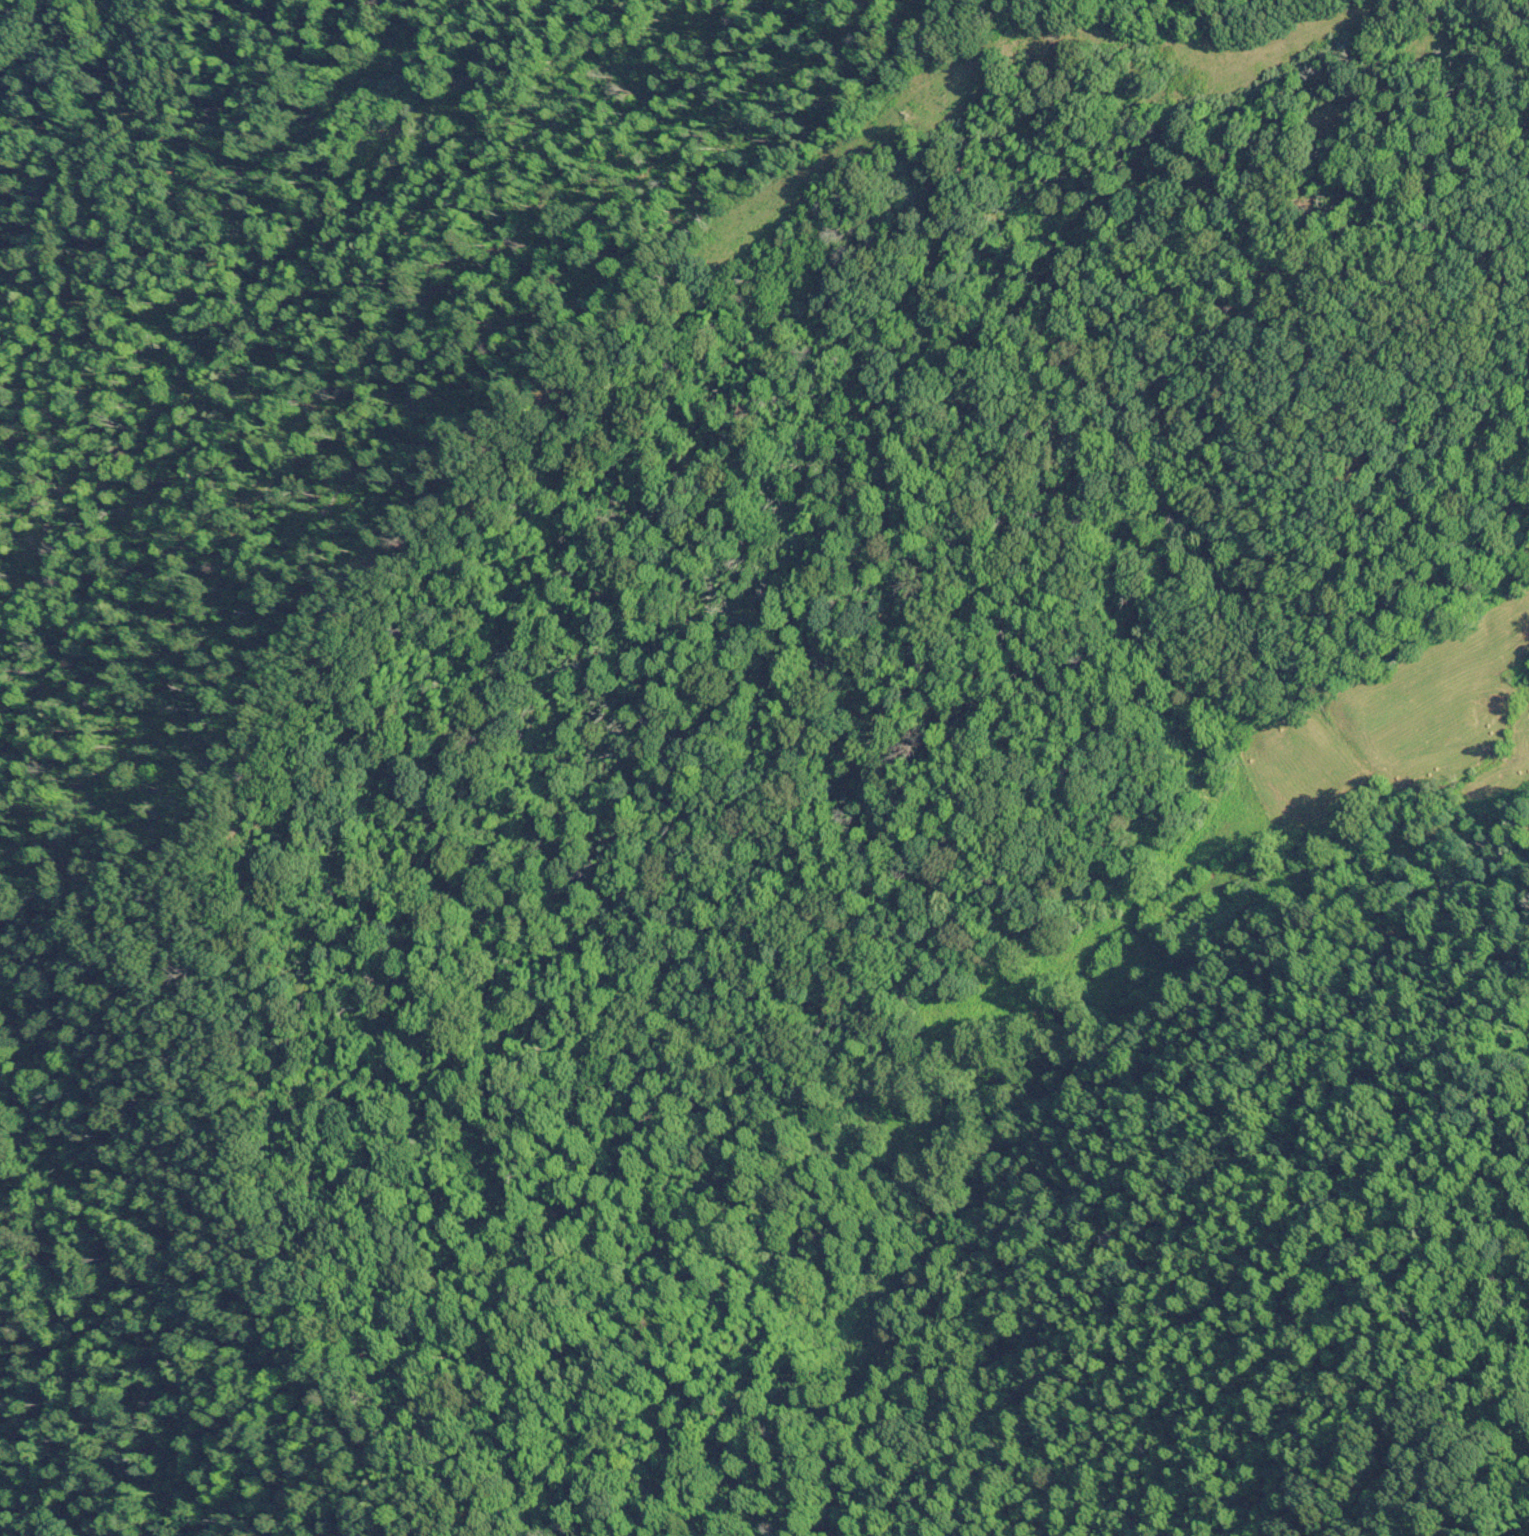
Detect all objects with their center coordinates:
road: (8, 7)

